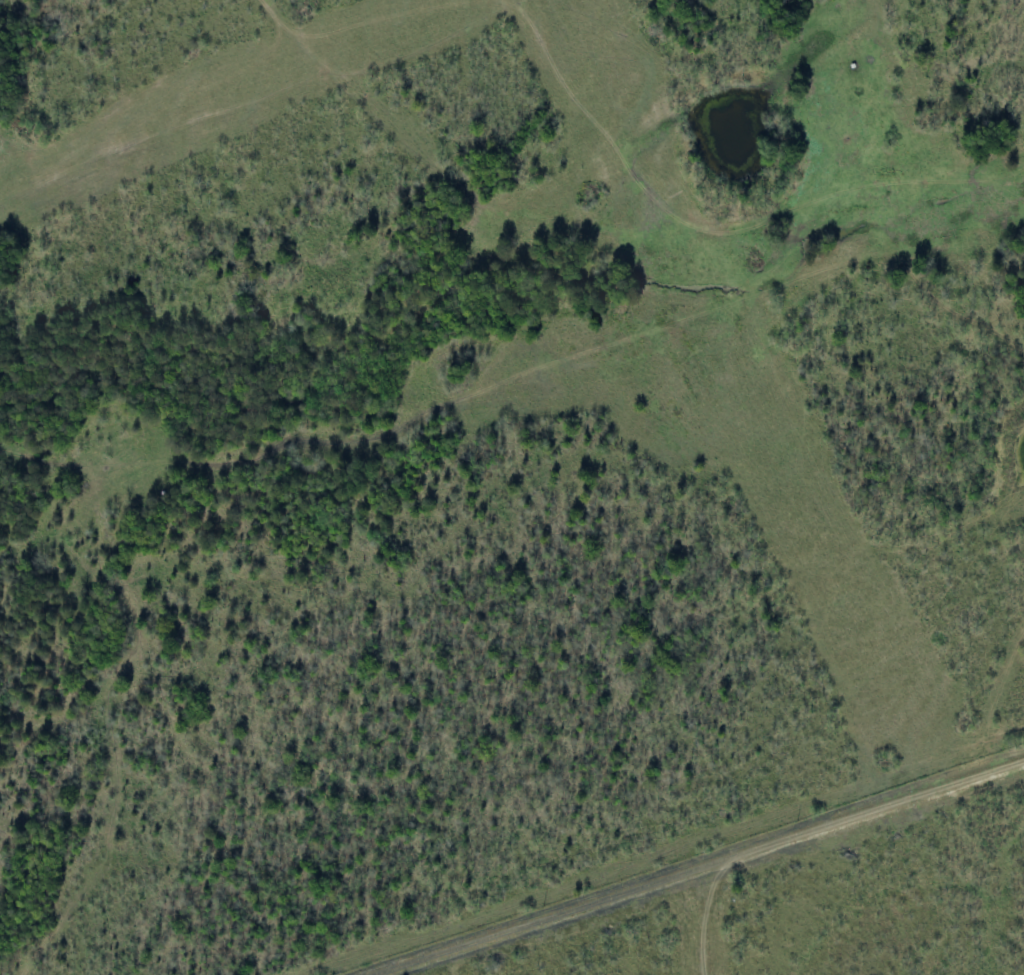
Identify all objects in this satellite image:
road: (733, 876)

